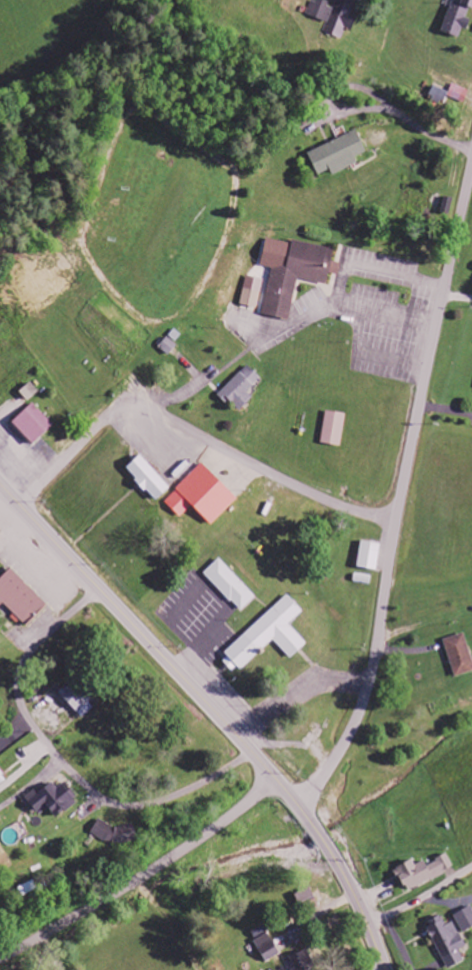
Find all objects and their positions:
building: (336, 15)
building: (459, 18)
building: (439, 96)
building: (340, 154)
building: (295, 272)
building: (253, 292)
road: (458, 306)
building: (169, 346)
building: (242, 388)
building: (31, 392)
building: (34, 424)
building: (335, 429)
road: (198, 432)
building: (150, 478)
building: (204, 496)
road: (404, 502)
building: (371, 556)
building: (231, 585)
building: (20, 598)
parking lot: (201, 610)
building: (270, 636)
road: (202, 648)
building: (460, 655)
building: (78, 701)
road: (215, 710)
road: (62, 761)
building: (2, 778)
building: (54, 800)
building: (424, 872)
road: (143, 874)
building: (306, 896)
road: (421, 896)
building: (465, 920)
building: (449, 943)
building: (268, 947)
building: (304, 962)
road: (384, 968)

